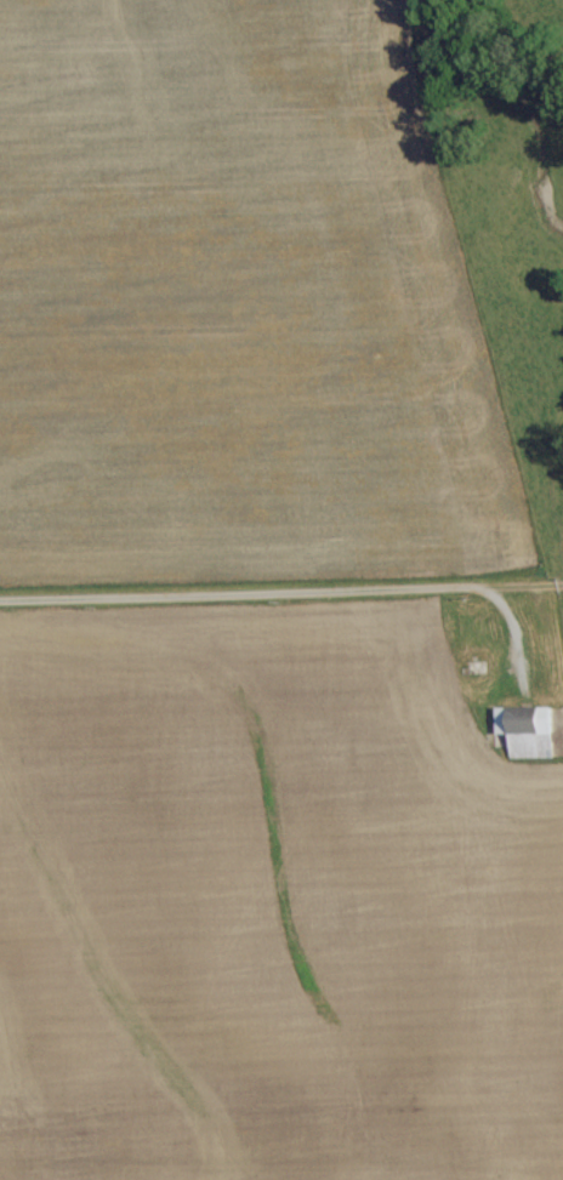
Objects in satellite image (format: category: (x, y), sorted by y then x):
road: (260, 581)
building: (528, 731)

